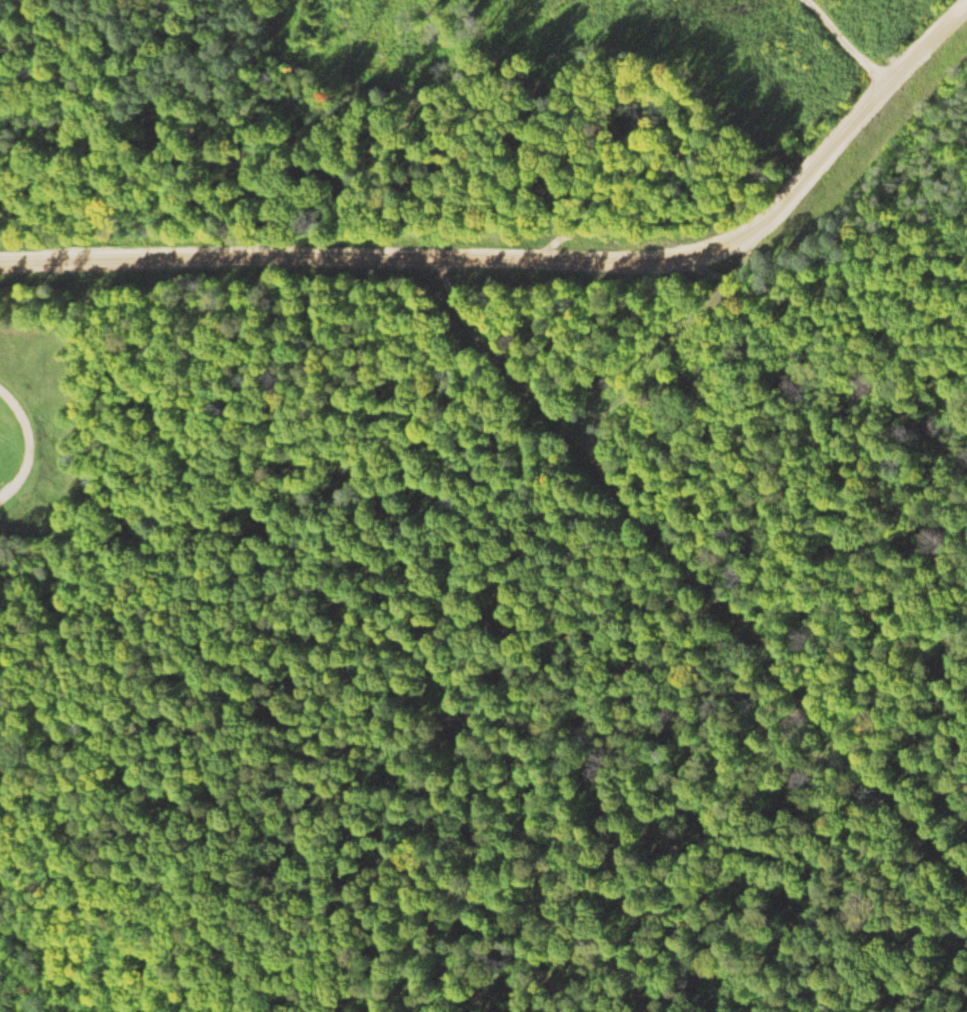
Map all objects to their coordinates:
road: (536, 260)

